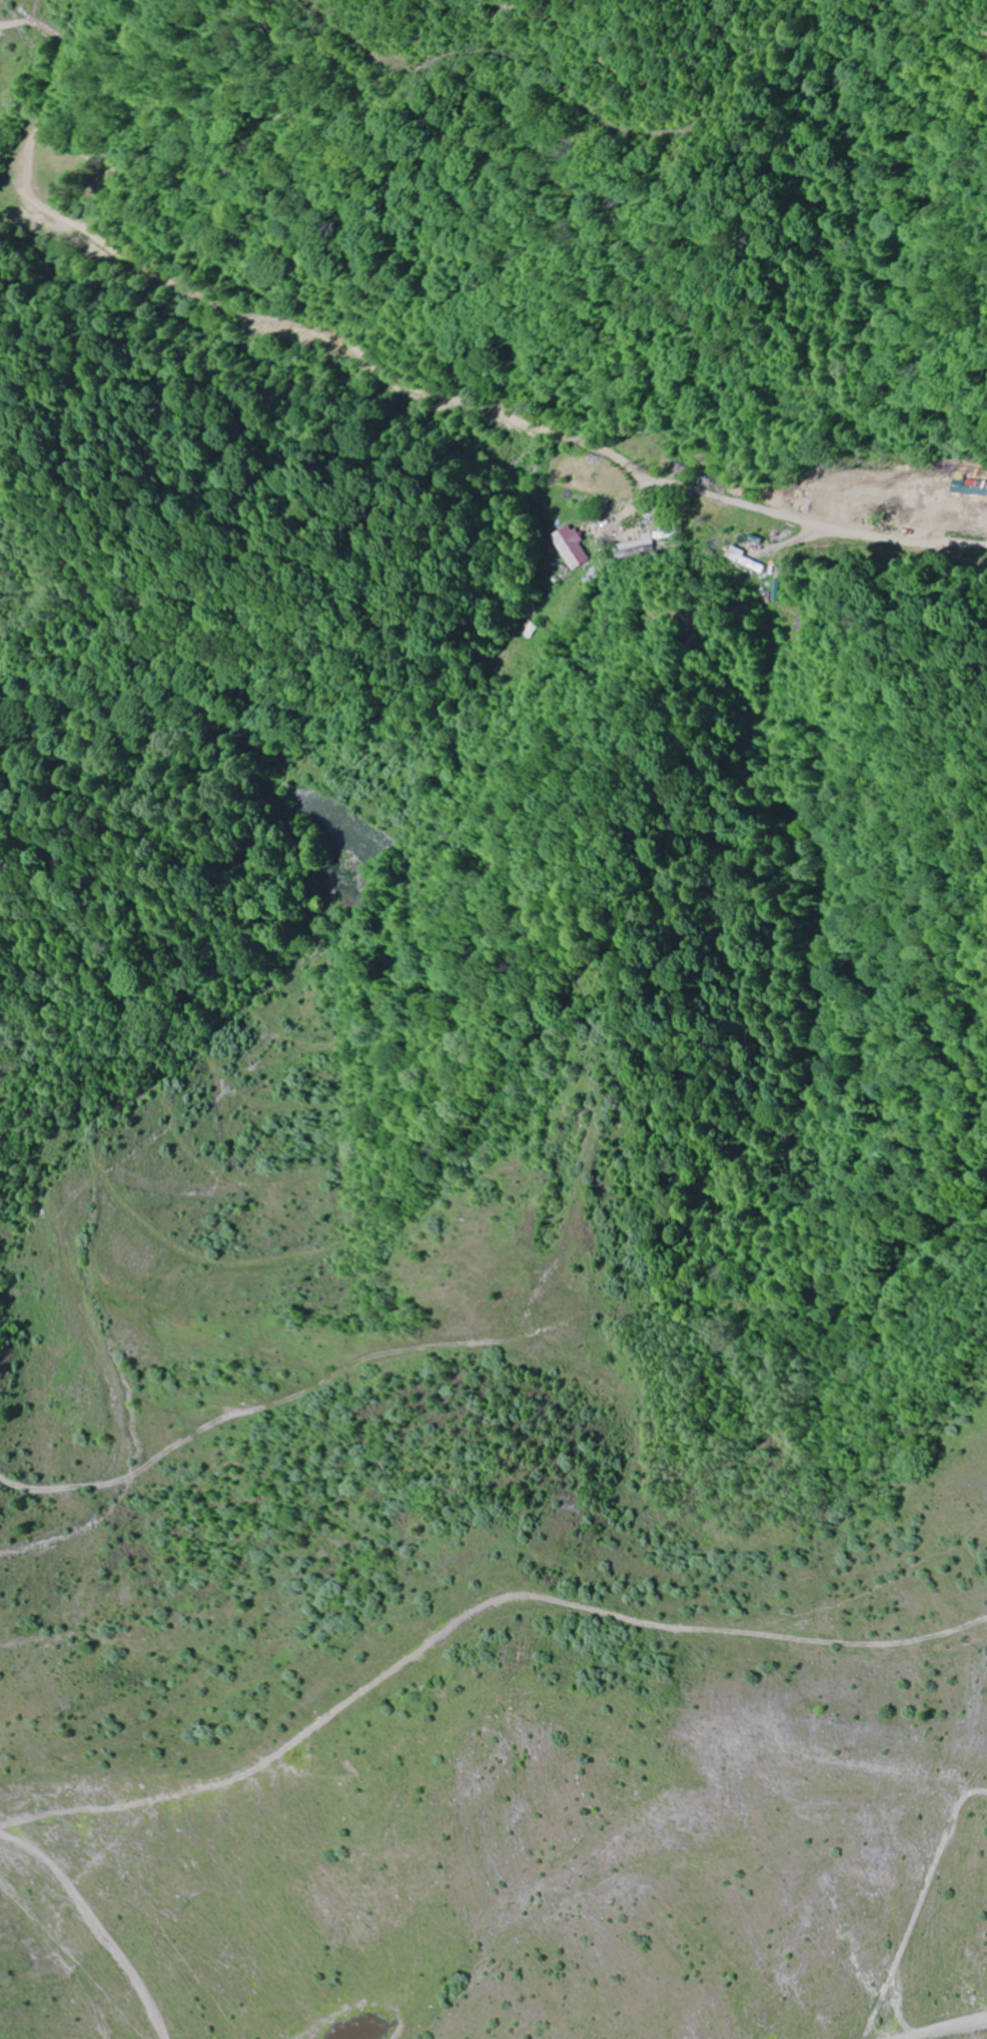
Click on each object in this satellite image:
road: (604, 470)
building: (643, 545)
building: (578, 547)
building: (751, 560)

